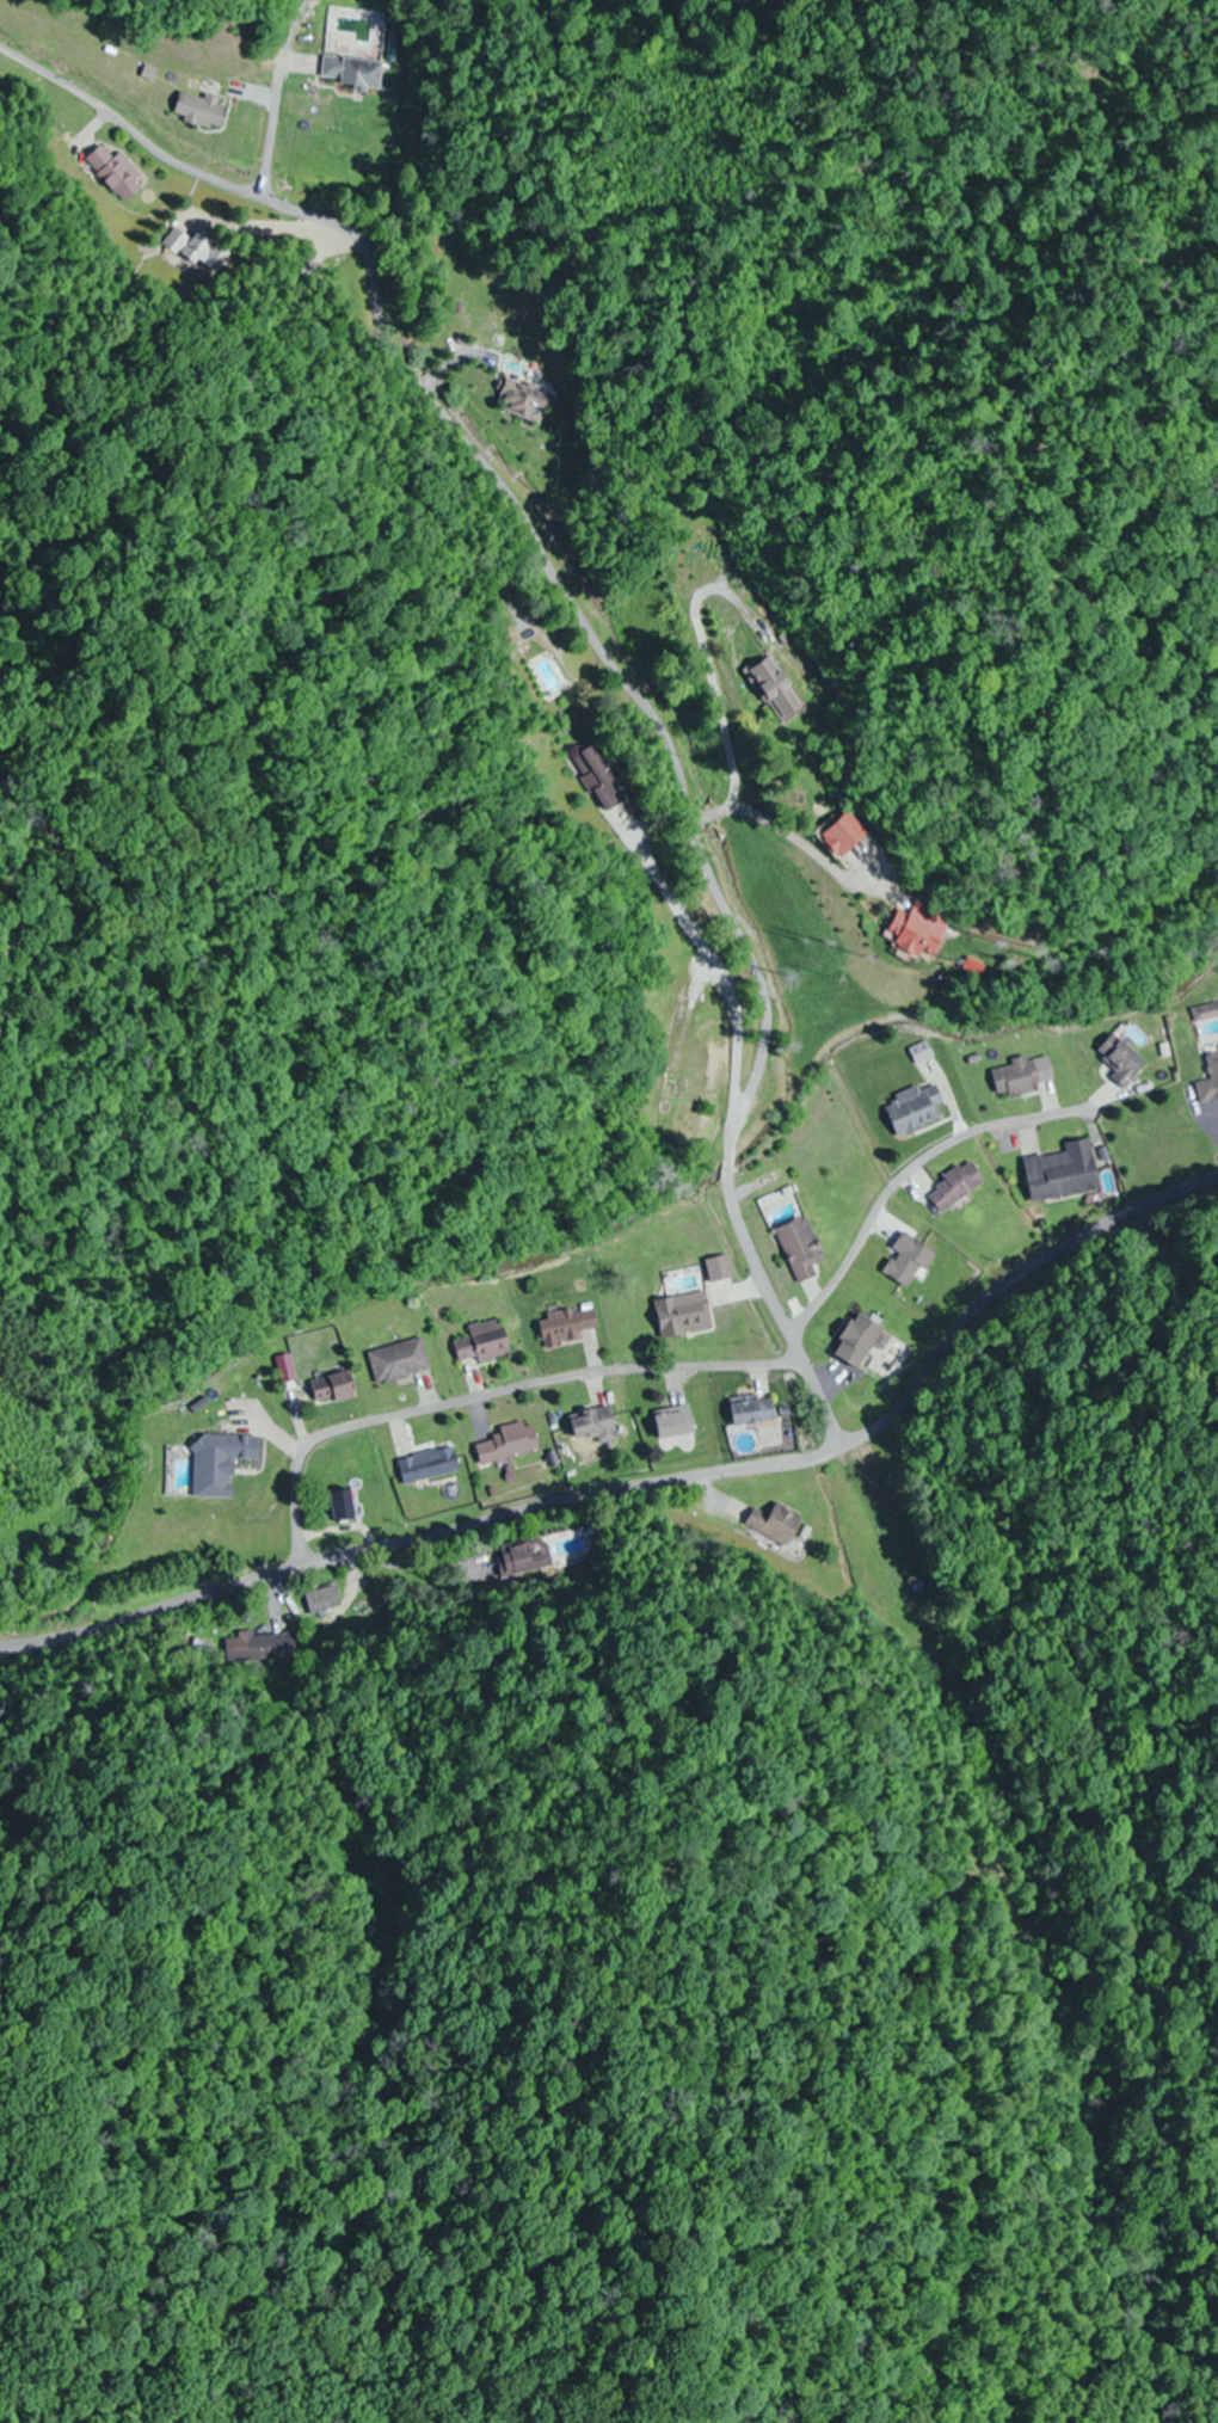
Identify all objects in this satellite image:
building: (357, 73)
building: (205, 111)
building: (117, 173)
building: (197, 248)
building: (528, 404)
road: (605, 662)
building: (782, 688)
building: (603, 779)
building: (850, 837)
building: (923, 934)
building: (1207, 1014)
building: (1124, 1060)
building: (1017, 1080)
building: (1211, 1084)
building: (918, 1111)
building: (1065, 1173)
building: (959, 1187)
building: (804, 1249)
building: (685, 1316)
building: (570, 1328)
building: (861, 1341)
building: (485, 1343)
building: (401, 1361)
building: (336, 1389)
road: (535, 1394)
building: (755, 1413)
building: (676, 1423)
building: (597, 1426)
building: (511, 1444)
road: (802, 1457)
building: (222, 1463)
building: (431, 1466)
building: (346, 1506)
building: (777, 1524)
building: (540, 1555)
building: (325, 1601)
road: (152, 1610)
building: (259, 1648)

